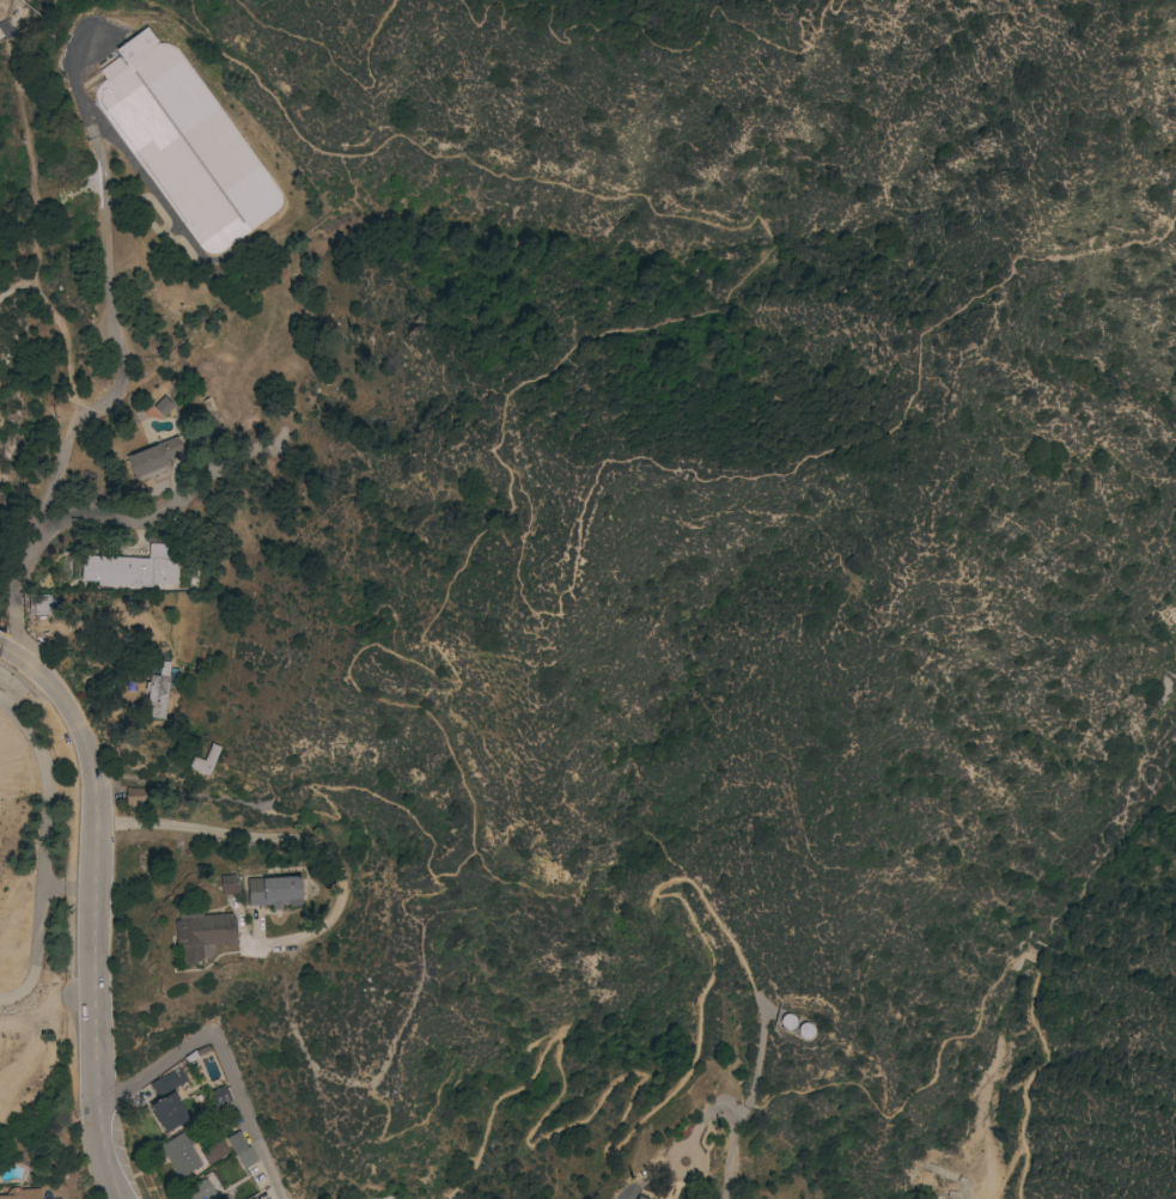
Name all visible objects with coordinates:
building: (0, 1)
road: (182, 4)
road: (473, 8)
road: (827, 12)
road: (1, 18)
road: (38, 28)
road: (7, 29)
road: (683, 41)
building: (135, 44)
road: (325, 60)
building: (112, 68)
building: (190, 150)
road: (35, 194)
road: (115, 303)
road: (74, 383)
building: (164, 407)
road: (494, 451)
building: (153, 458)
road: (51, 528)
building: (130, 570)
building: (39, 604)
road: (374, 646)
road: (0, 647)
road: (7, 652)
dam: (1171, 674)
building: (158, 693)
building: (205, 761)
building: (135, 797)
building: (229, 885)
road: (353, 889)
building: (275, 891)
road: (510, 893)
road: (403, 897)
road: (96, 913)
building: (201, 936)
dam: (1036, 938)
road: (1029, 957)
building: (788, 1022)
building: (806, 1030)
road: (220, 1052)
road: (1026, 1076)
building: (169, 1083)
road: (908, 1095)
building: (220, 1096)
road: (715, 1104)
building: (169, 1113)
road: (648, 1119)
building: (237, 1142)
building: (179, 1155)
building: (246, 1157)
road: (1005, 1170)
building: (201, 1191)
building: (23, 1194)
building: (225, 1197)
building: (252, 1198)
building: (638, 1198)

